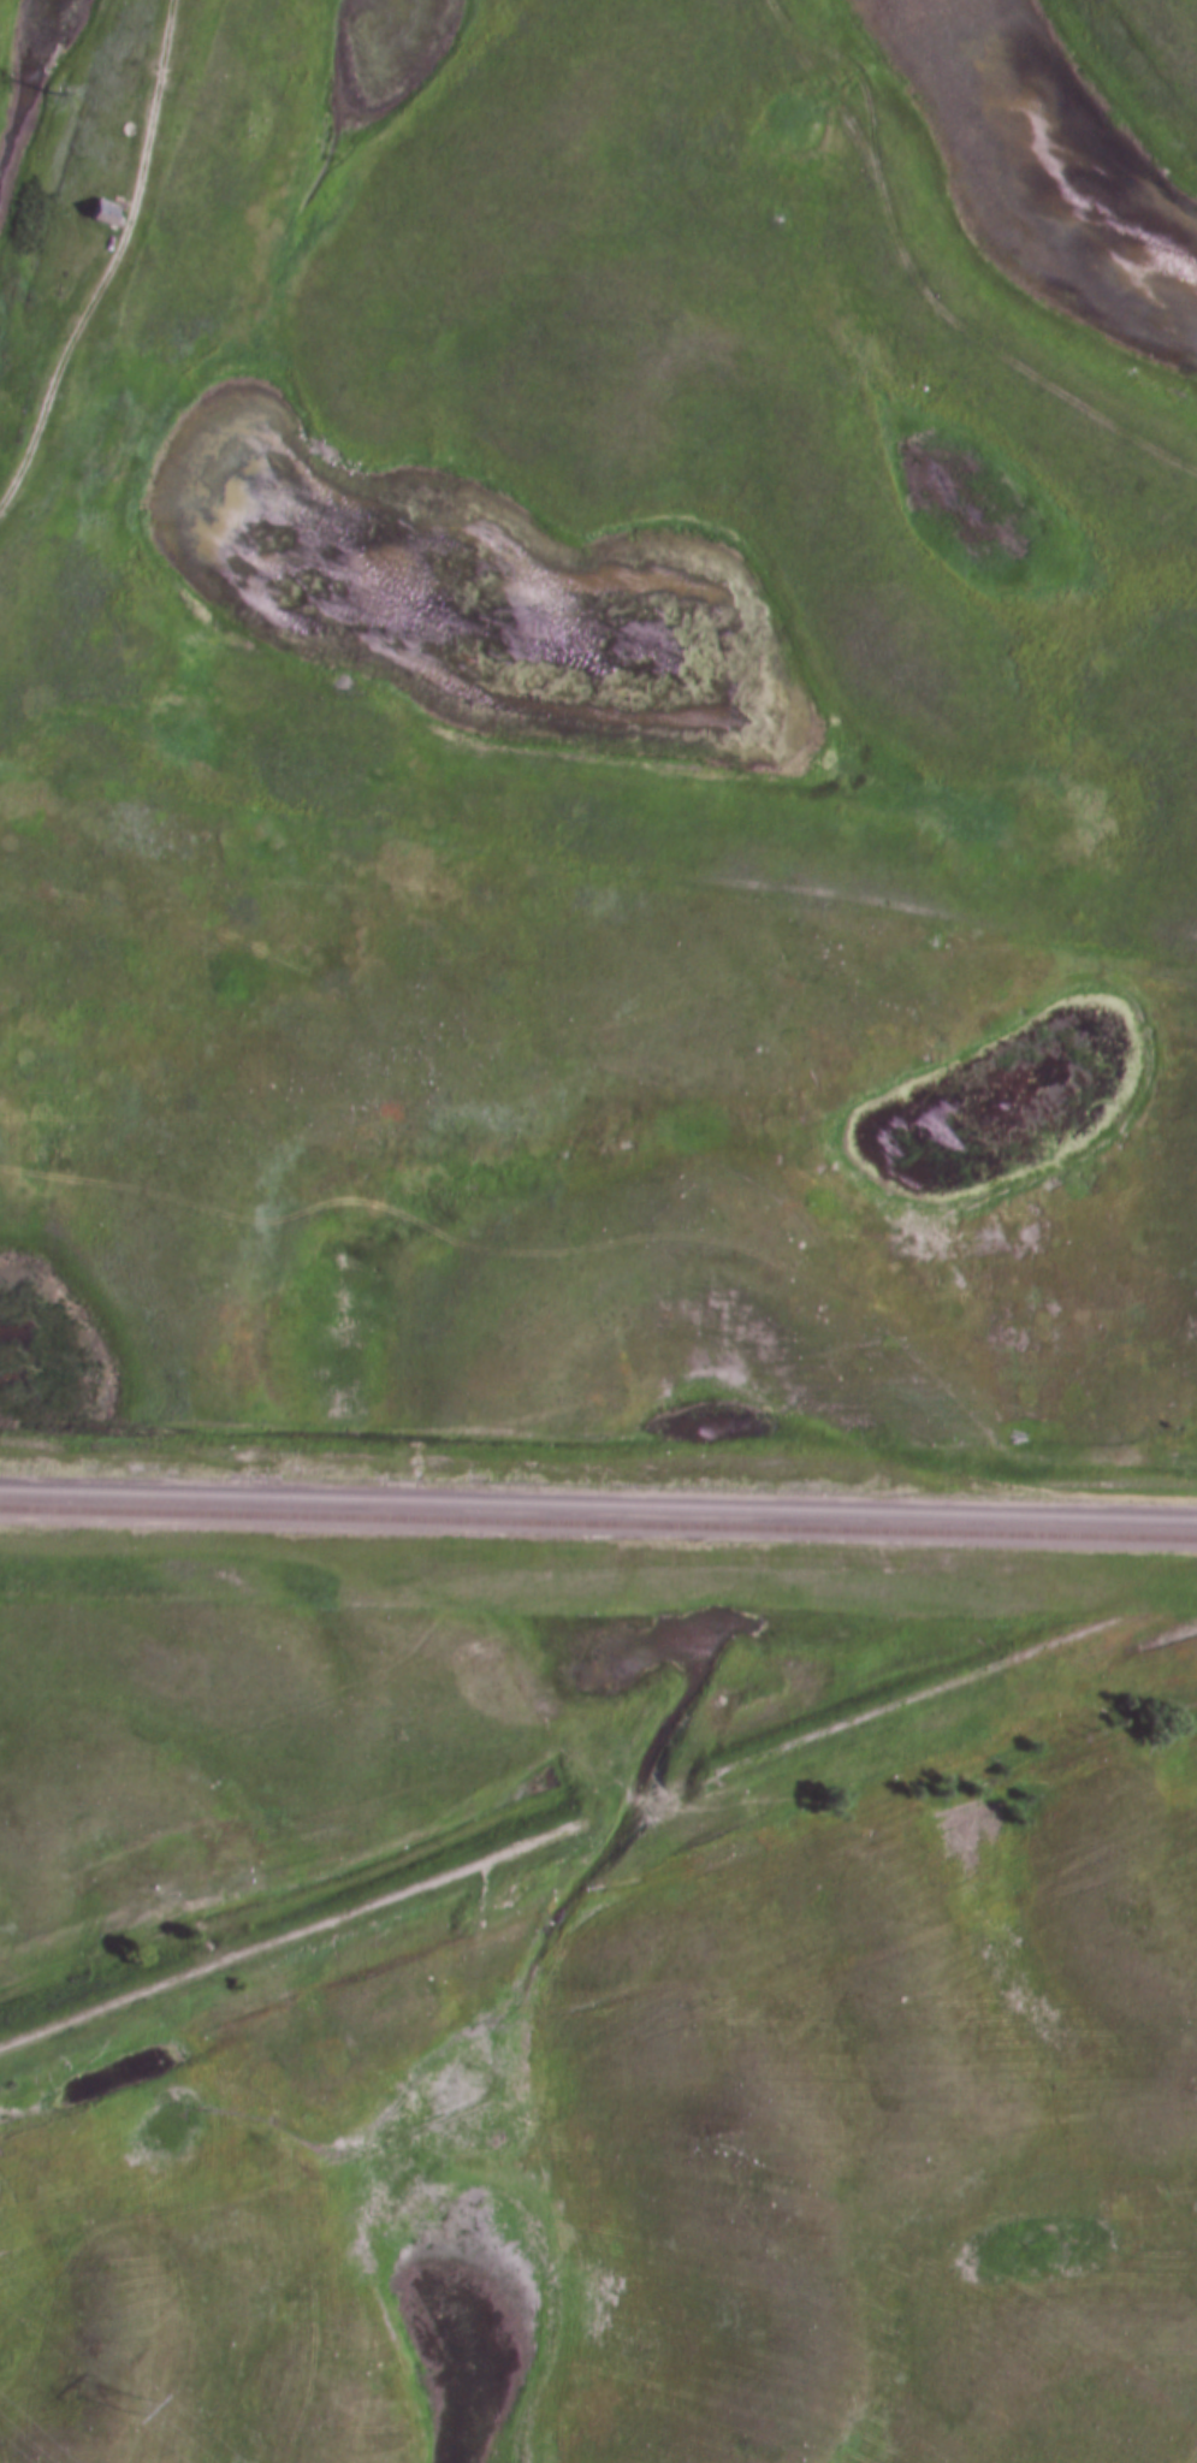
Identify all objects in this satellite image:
road: (120, 248)
railway: (598, 1493)
railway: (598, 1524)
power tower: (120, 2406)

